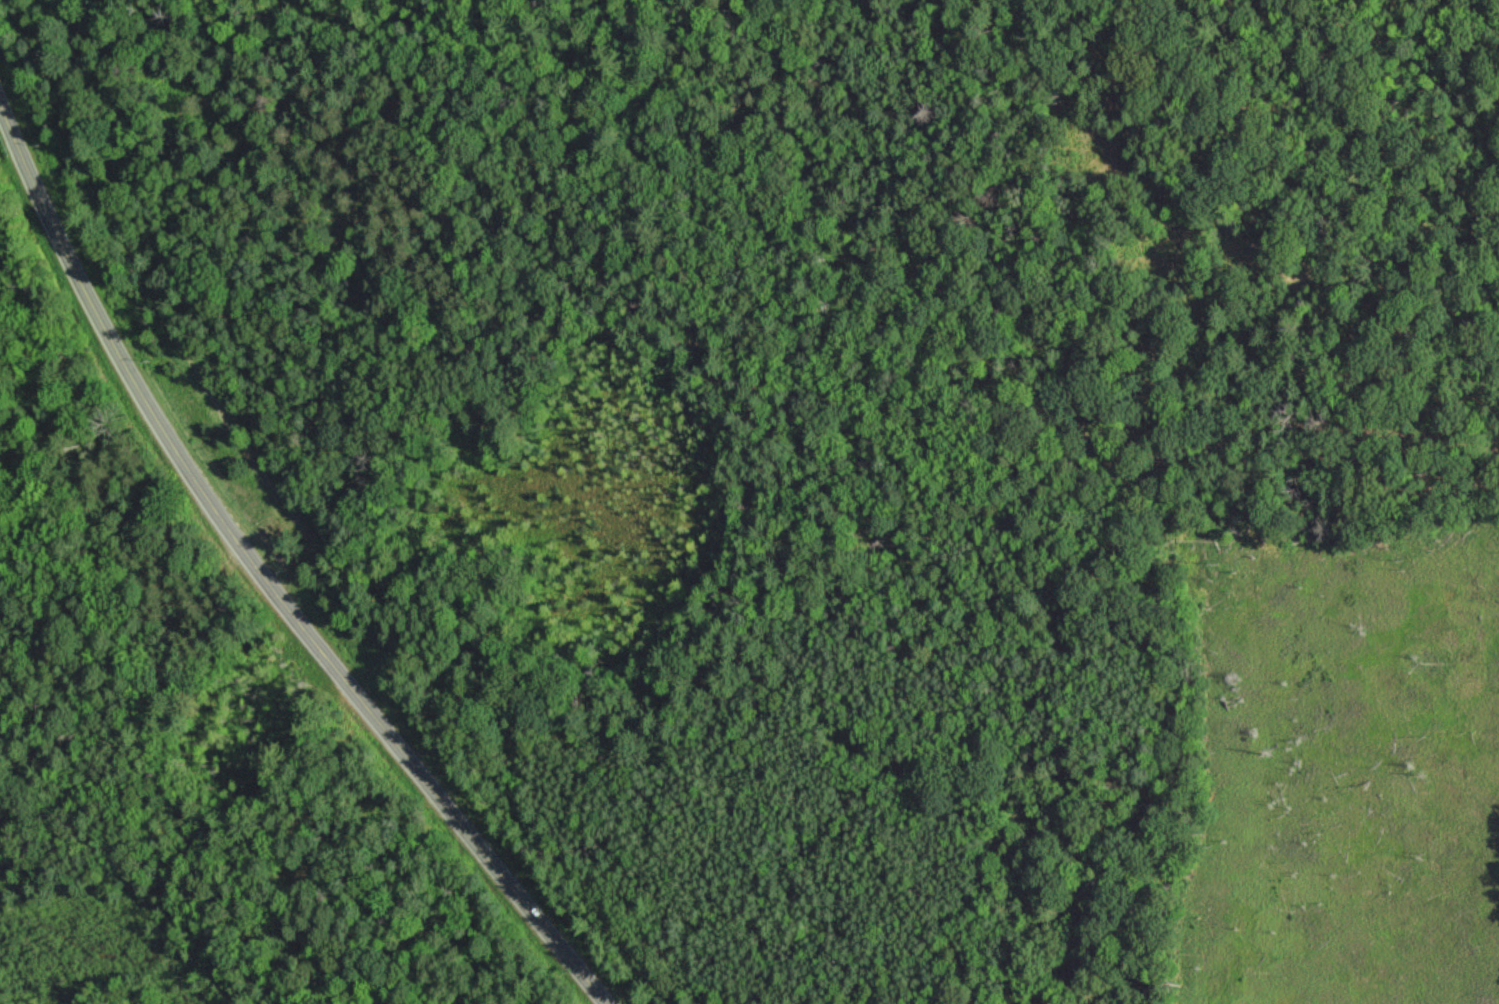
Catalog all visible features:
road: (261, 573)

